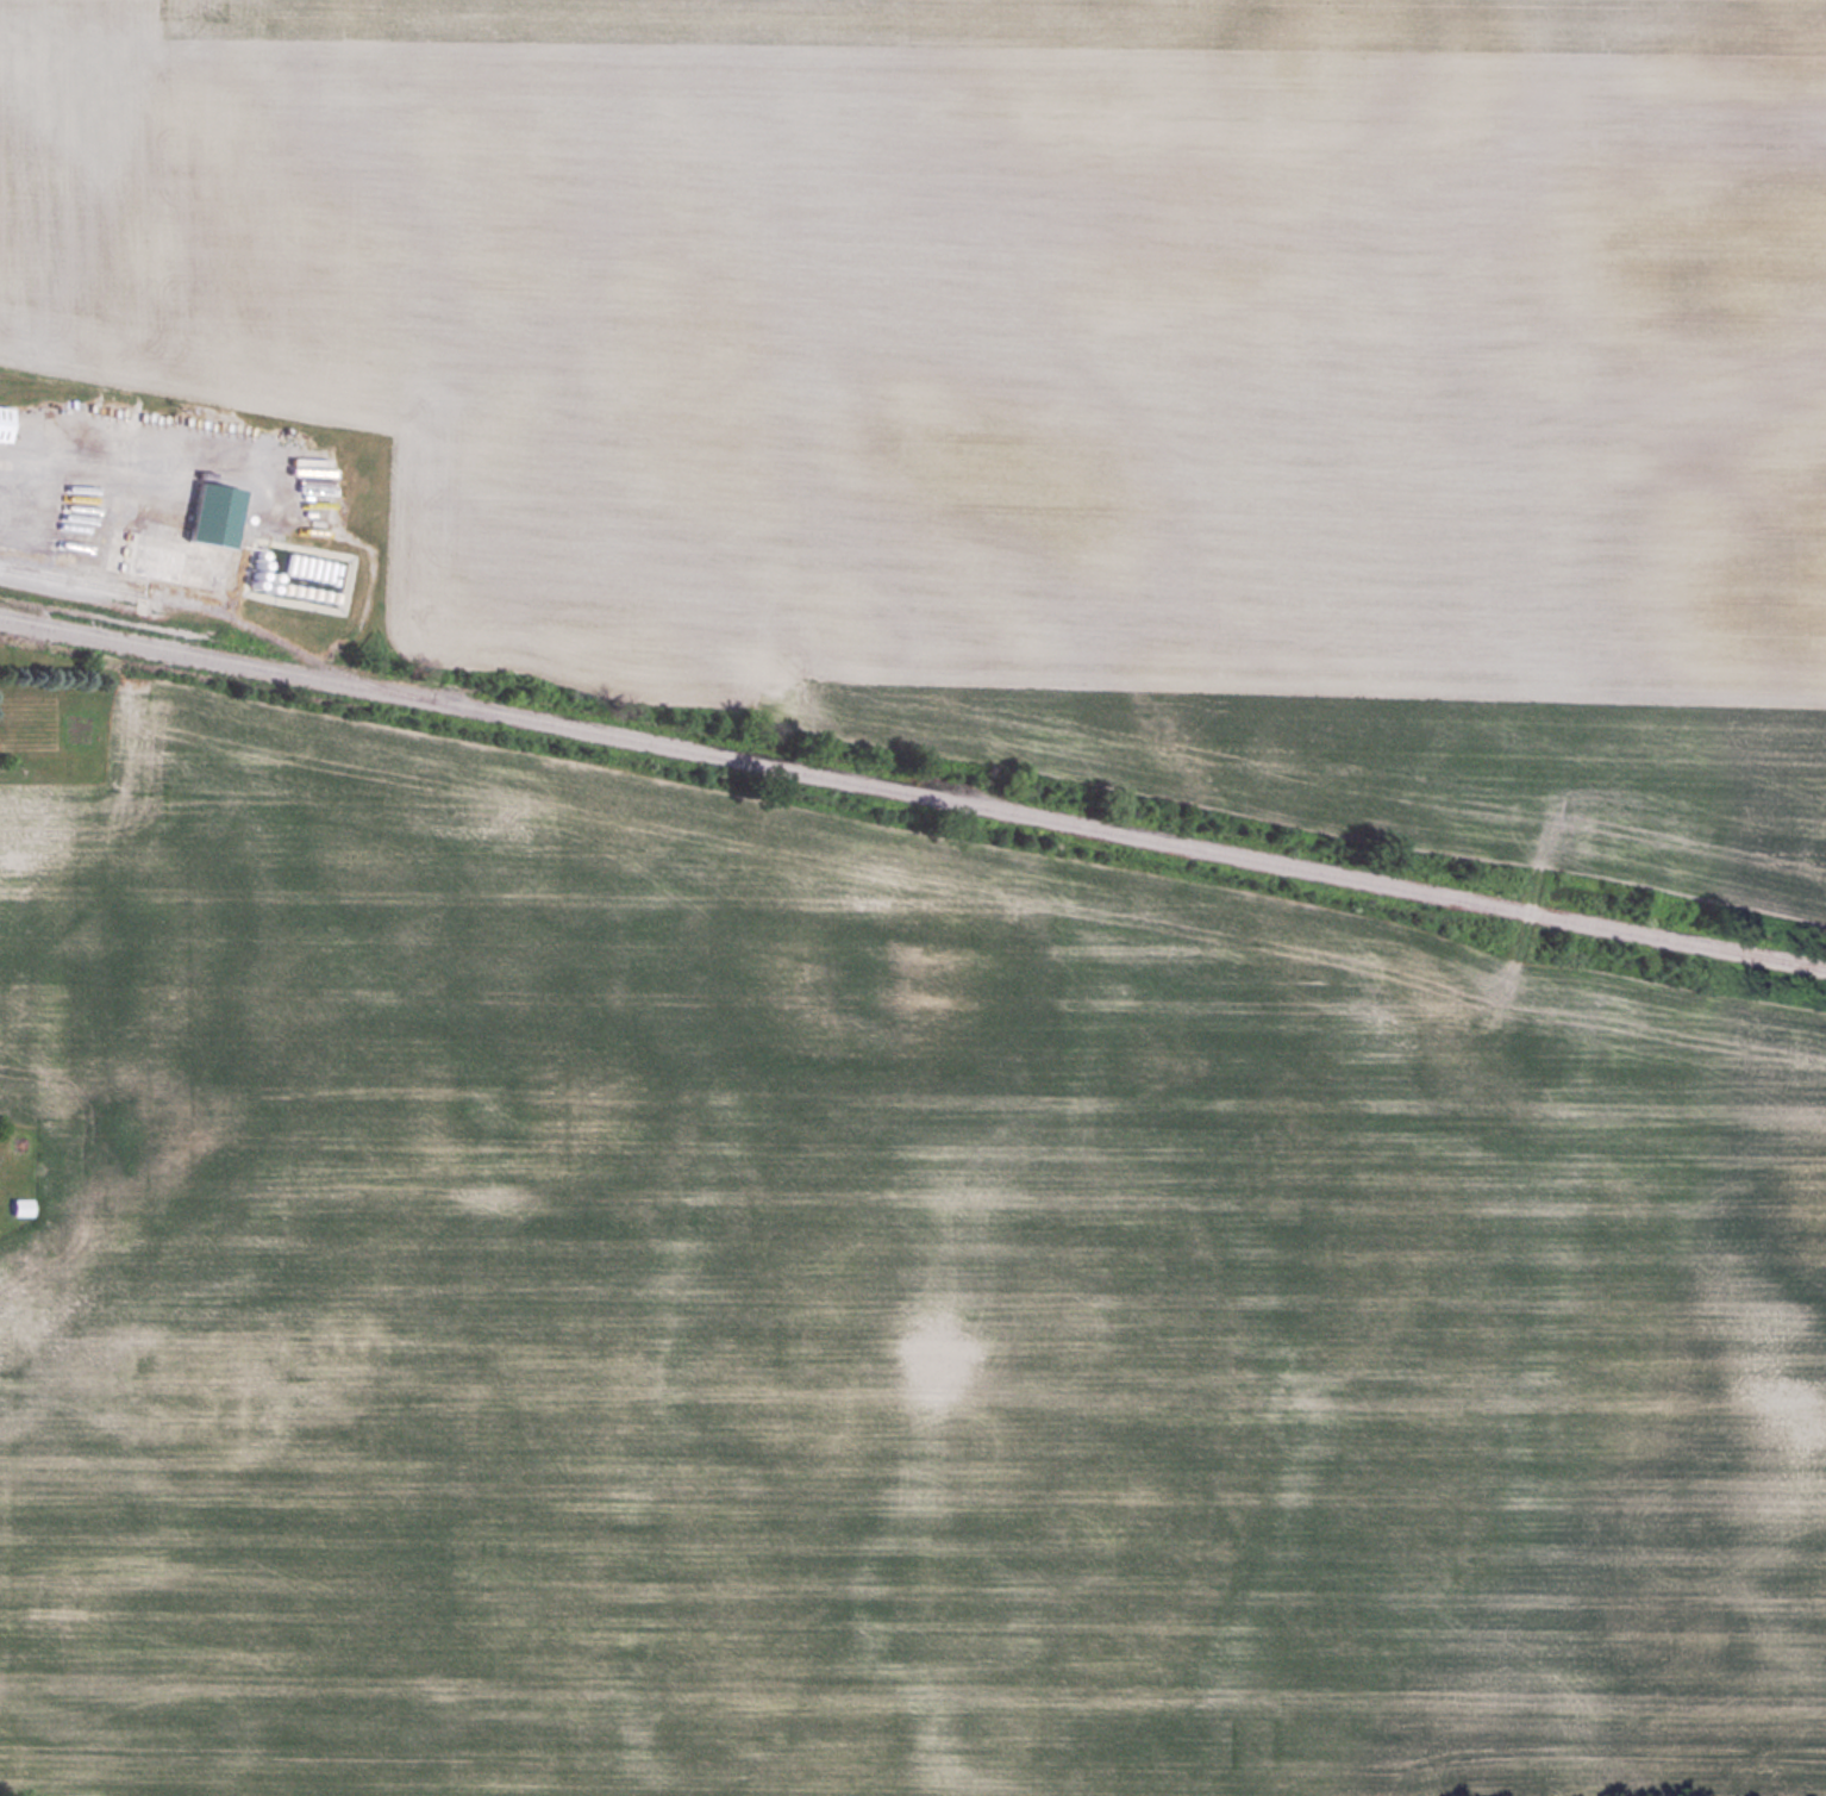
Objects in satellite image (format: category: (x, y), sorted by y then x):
building: (5, 423)
building: (185, 541)
railway: (913, 793)
building: (21, 1208)

